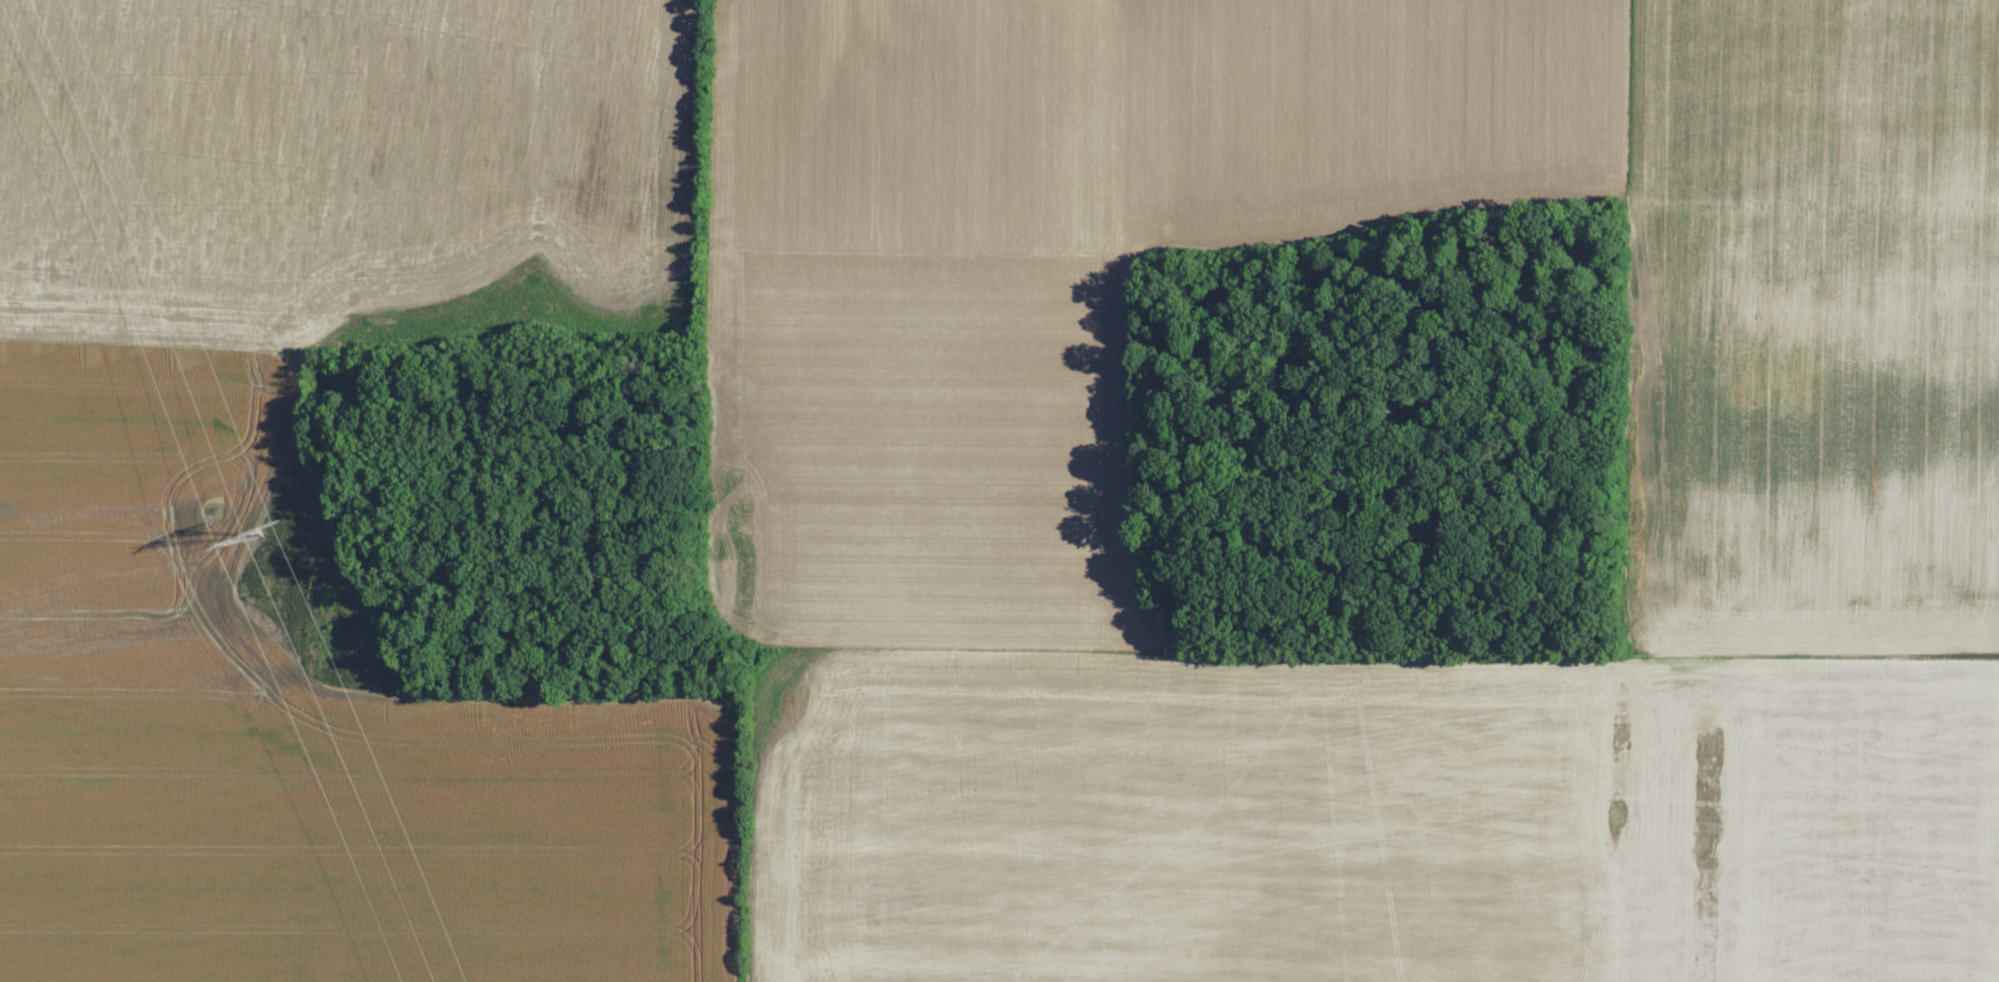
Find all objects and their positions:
power tower: (273, 543)

